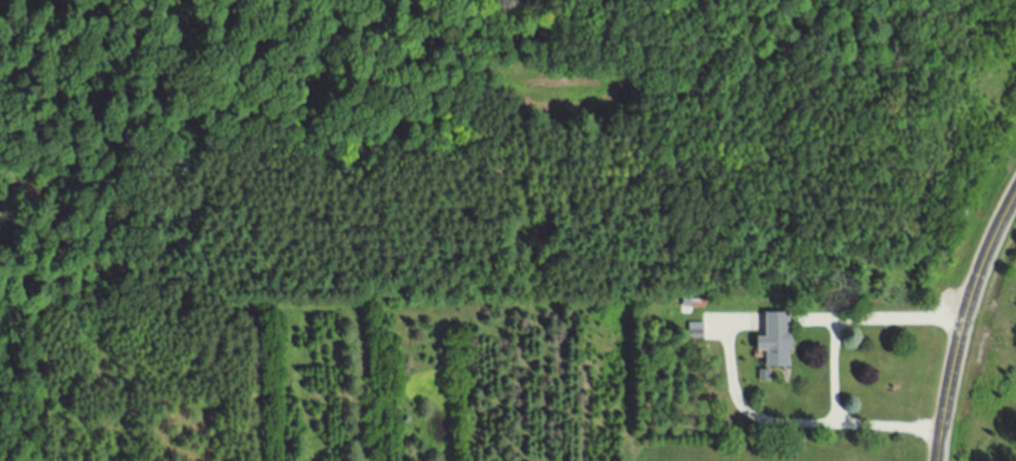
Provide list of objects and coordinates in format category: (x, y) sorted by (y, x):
road: (885, 319)
road: (960, 321)
building: (696, 332)
building: (776, 342)
road: (830, 373)
road: (794, 423)

